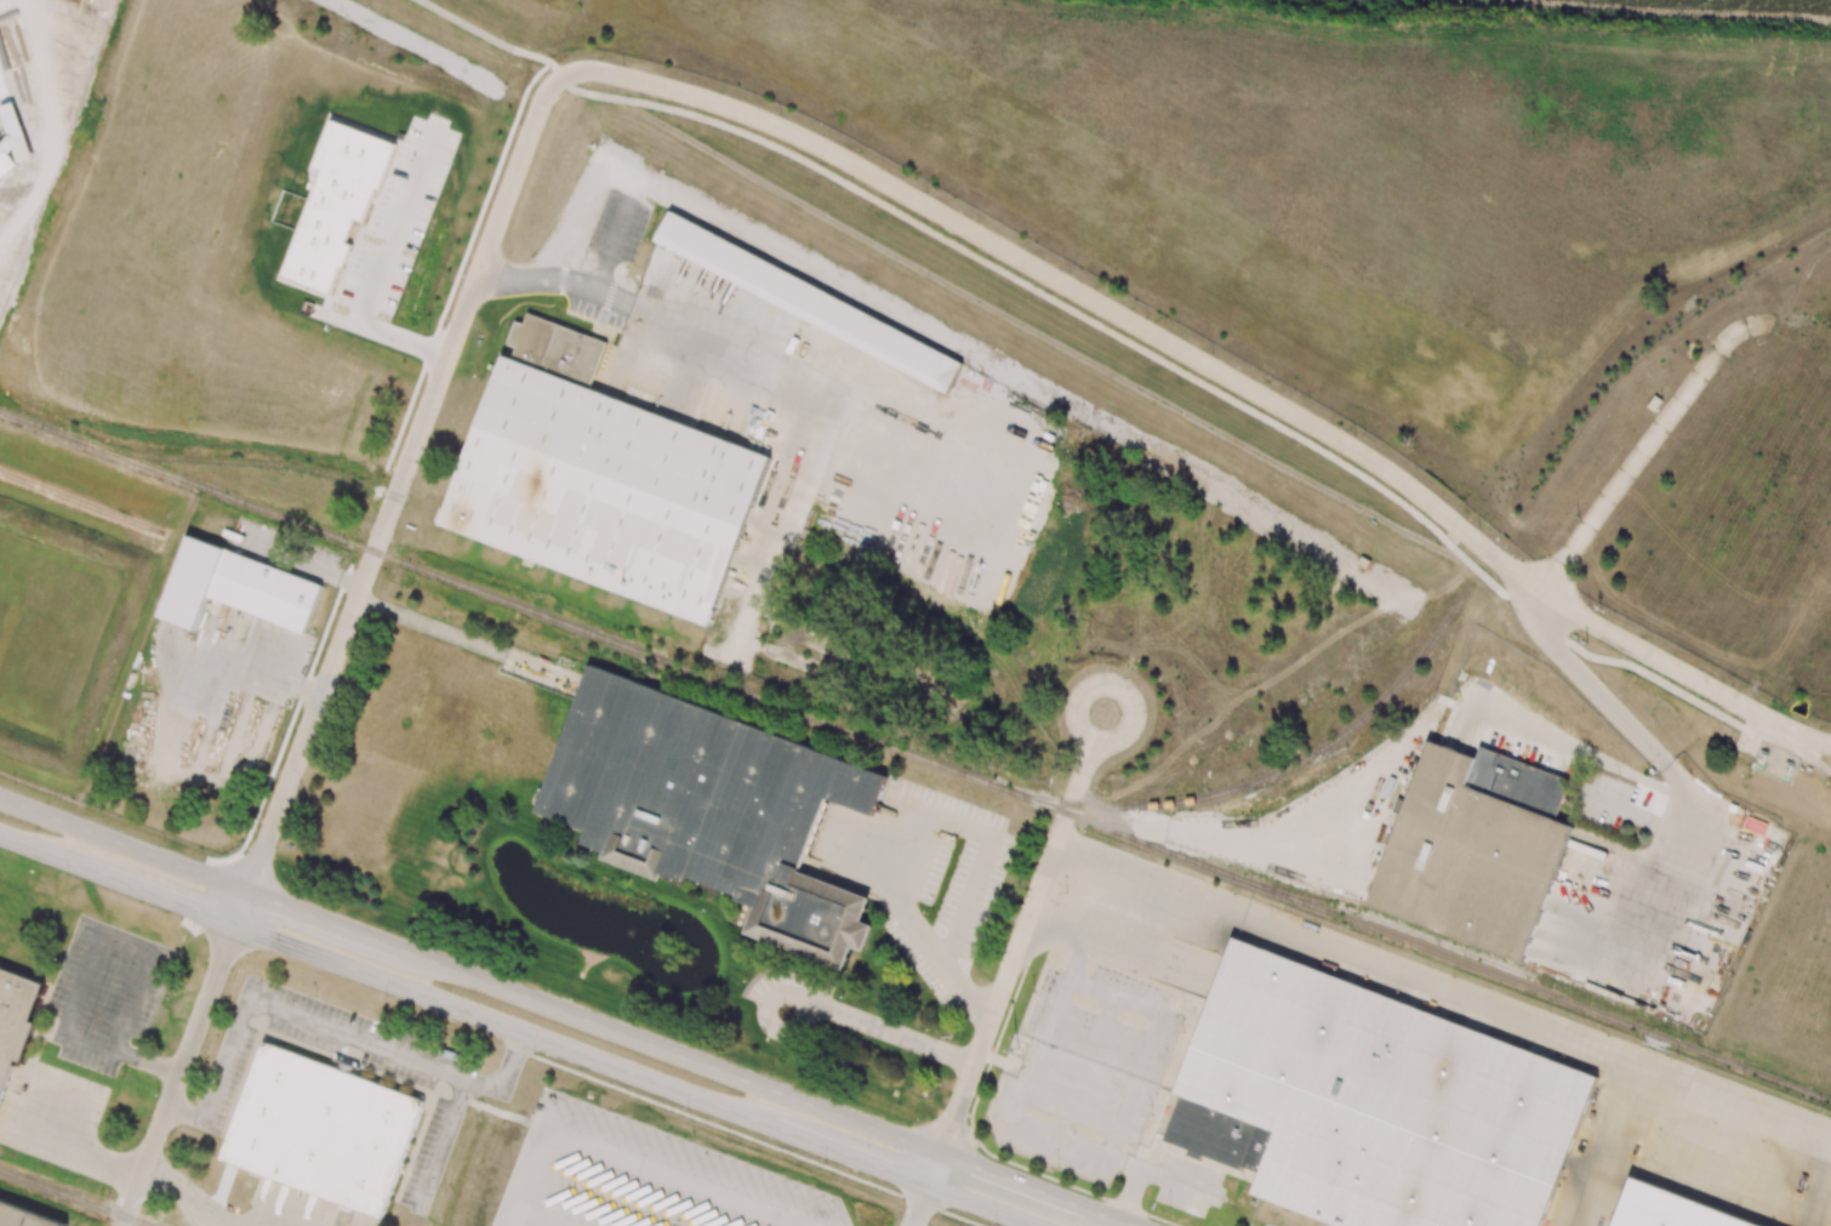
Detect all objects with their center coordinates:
road: (491, 40)
road: (50, 125)
building: (12, 150)
building: (335, 204)
road: (380, 266)
road: (601, 293)
building: (812, 301)
building: (558, 349)
road: (1220, 373)
road: (1215, 392)
railway: (267, 464)
road: (1636, 464)
road: (403, 478)
building: (609, 492)
railway: (82, 502)
building: (196, 582)
building: (270, 592)
road: (1598, 701)
railway: (914, 755)
railway: (1276, 775)
street lamp: (13, 783)
building: (717, 811)
street lamp: (162, 840)
road: (122, 848)
road: (33, 849)
building: (1470, 851)
road: (1671, 866)
road: (1110, 874)
street lamp: (65, 878)
road: (149, 894)
street lamp: (331, 908)
road: (240, 911)
railway: (1393, 924)
road: (326, 925)
road: (920, 928)
street lamp: (192, 929)
road: (1023, 929)
road: (90, 951)
street lamp: (479, 960)
road: (1077, 960)
parking lot: (792, 994)
street lamp: (386, 998)
road: (799, 1003)
building: (13, 1016)
street lamp: (632, 1021)
road: (124, 1023)
road: (497, 1023)
road: (324, 1027)
road: (888, 1036)
street lamp: (534, 1051)
road: (673, 1055)
road: (149, 1057)
street lamp: (770, 1070)
road: (178, 1076)
road: (1026, 1080)
building: (1375, 1102)
street lamp: (686, 1110)
building: (323, 1129)
road: (79, 1144)
road: (1079, 1144)
road: (844, 1153)
street lamp: (826, 1163)
road: (934, 1170)
parking lot: (648, 1173)
road: (1016, 1184)
street lamp: (1091, 1190)
road: (188, 1191)
road: (1130, 1194)
railway: (74, 1197)
road: (919, 1205)
road: (981, 1205)
building: (1660, 1210)
building: (24, 1216)
road: (1111, 1219)

